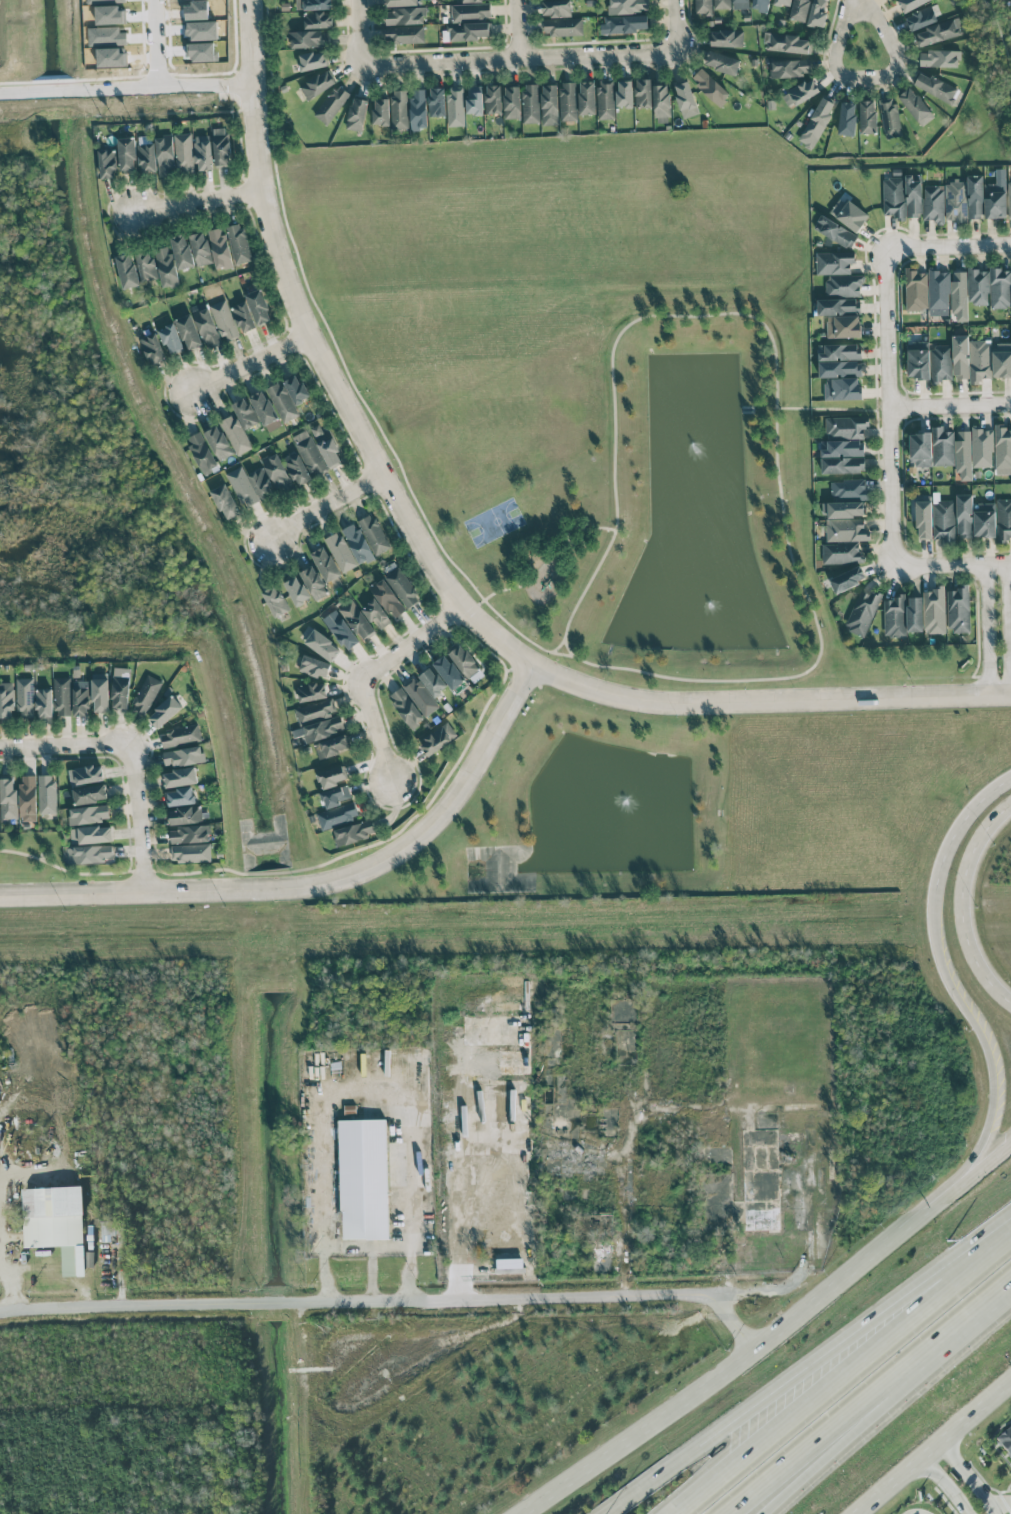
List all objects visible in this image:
building: (475, 0)
building: (400, 2)
building: (782, 2)
building: (313, 4)
building: (722, 4)
building: (739, 4)
building: (910, 4)
building: (760, 5)
building: (628, 6)
building: (703, 7)
building: (556, 8)
building: (799, 10)
building: (471, 11)
building: (817, 13)
building: (405, 16)
building: (923, 17)
building: (318, 20)
building: (626, 24)
road: (674, 24)
building: (563, 27)
road: (517, 28)
building: (468, 31)
building: (939, 32)
road: (357, 33)
building: (404, 34)
building: (726, 38)
building: (309, 39)
building: (786, 43)
road: (158, 45)
road: (520, 56)
building: (939, 58)
building: (312, 60)
building: (722, 62)
building: (790, 68)
road: (867, 80)
building: (317, 85)
building: (710, 86)
building: (934, 86)
road: (127, 91)
building: (624, 93)
building: (643, 93)
building: (800, 93)
building: (587, 98)
building: (493, 99)
building: (606, 99)
building: (685, 99)
building: (474, 100)
building: (661, 100)
building: (568, 101)
building: (437, 102)
building: (512, 102)
building: (531, 103)
building: (549, 104)
building: (332, 105)
building: (455, 106)
building: (916, 106)
building: (399, 109)
building: (418, 110)
building: (381, 111)
building: (357, 114)
building: (867, 117)
building: (890, 117)
building: (847, 118)
building: (816, 123)
building: (221, 147)
building: (184, 151)
building: (203, 152)
building: (126, 154)
building: (164, 156)
building: (147, 158)
building: (108, 163)
building: (996, 196)
building: (901, 197)
building: (975, 197)
building: (1009, 199)
building: (956, 201)
road: (199, 202)
building: (933, 203)
building: (848, 214)
building: (835, 232)
building: (238, 243)
road: (949, 246)
building: (220, 248)
building: (201, 249)
building: (182, 251)
building: (147, 265)
building: (166, 267)
building: (127, 271)
building: (839, 273)
building: (990, 287)
building: (915, 290)
building: (938, 292)
building: (959, 295)
building: (258, 306)
building: (838, 306)
building: (243, 317)
building: (225, 320)
building: (843, 327)
building: (207, 328)
building: (188, 332)
building: (171, 338)
building: (153, 349)
building: (839, 352)
road: (250, 359)
building: (918, 359)
building: (971, 359)
building: (1001, 360)
building: (941, 362)
building: (841, 379)
building: (296, 389)
building: (283, 402)
road: (951, 402)
road: (890, 403)
building: (263, 407)
building: (245, 413)
building: (846, 427)
building: (236, 435)
building: (218, 442)
building: (1002, 446)
building: (326, 447)
building: (932, 447)
building: (982, 447)
building: (201, 452)
building: (310, 452)
building: (963, 454)
building: (842, 456)
building: (297, 469)
building: (277, 473)
building: (261, 483)
building: (242, 486)
building: (849, 488)
building: (225, 502)
road: (326, 506)
building: (844, 509)
building: (964, 516)
building: (1004, 518)
building: (924, 519)
building: (984, 519)
building: (944, 520)
building: (846, 530)
building: (374, 534)
building: (357, 543)
road: (582, 544)
building: (341, 551)
building: (840, 553)
building: (325, 564)
road: (953, 564)
road: (543, 571)
road: (439, 575)
building: (847, 579)
building: (314, 582)
building: (403, 587)
building: (296, 590)
building: (387, 598)
building: (275, 601)
building: (958, 610)
building: (935, 611)
building: (863, 612)
building: (376, 613)
building: (914, 614)
building: (894, 617)
building: (357, 620)
road: (1010, 629)
building: (340, 630)
road: (985, 630)
building: (322, 645)
building: (466, 663)
building: (314, 666)
building: (448, 672)
road: (367, 674)
road: (803, 677)
building: (432, 681)
building: (120, 687)
building: (312, 691)
building: (100, 695)
building: (146, 695)
building: (63, 696)
building: (25, 697)
building: (81, 698)
building: (6, 700)
building: (44, 702)
building: (413, 702)
building: (316, 710)
building: (164, 712)
building: (320, 729)
building: (180, 736)
building: (438, 739)
road: (65, 743)
building: (332, 746)
building: (183, 756)
building: (85, 774)
building: (332, 776)
building: (180, 777)
building: (47, 794)
building: (90, 794)
building: (181, 796)
building: (335, 796)
building: (27, 799)
building: (8, 800)
building: (89, 814)
building: (185, 815)
building: (337, 815)
road: (138, 817)
road: (957, 819)
building: (354, 832)
building: (190, 834)
building: (91, 835)
building: (190, 853)
building: (90, 854)
road: (317, 882)
road: (962, 904)
road: (581, 1012)
road: (978, 1035)
road: (368, 1084)
road: (751, 1109)
road: (980, 1162)
building: (363, 1180)
building: (50, 1218)
road: (372, 1248)
road: (18, 1284)
road: (89, 1284)
road: (359, 1302)
road: (736, 1325)
road: (953, 1335)
road: (741, 1357)
road: (809, 1366)
road: (844, 1375)
building: (1005, 1440)
road: (815, 1447)
road: (831, 1447)
road: (938, 1450)
road: (969, 1479)
road: (943, 1490)
road: (1000, 1504)

